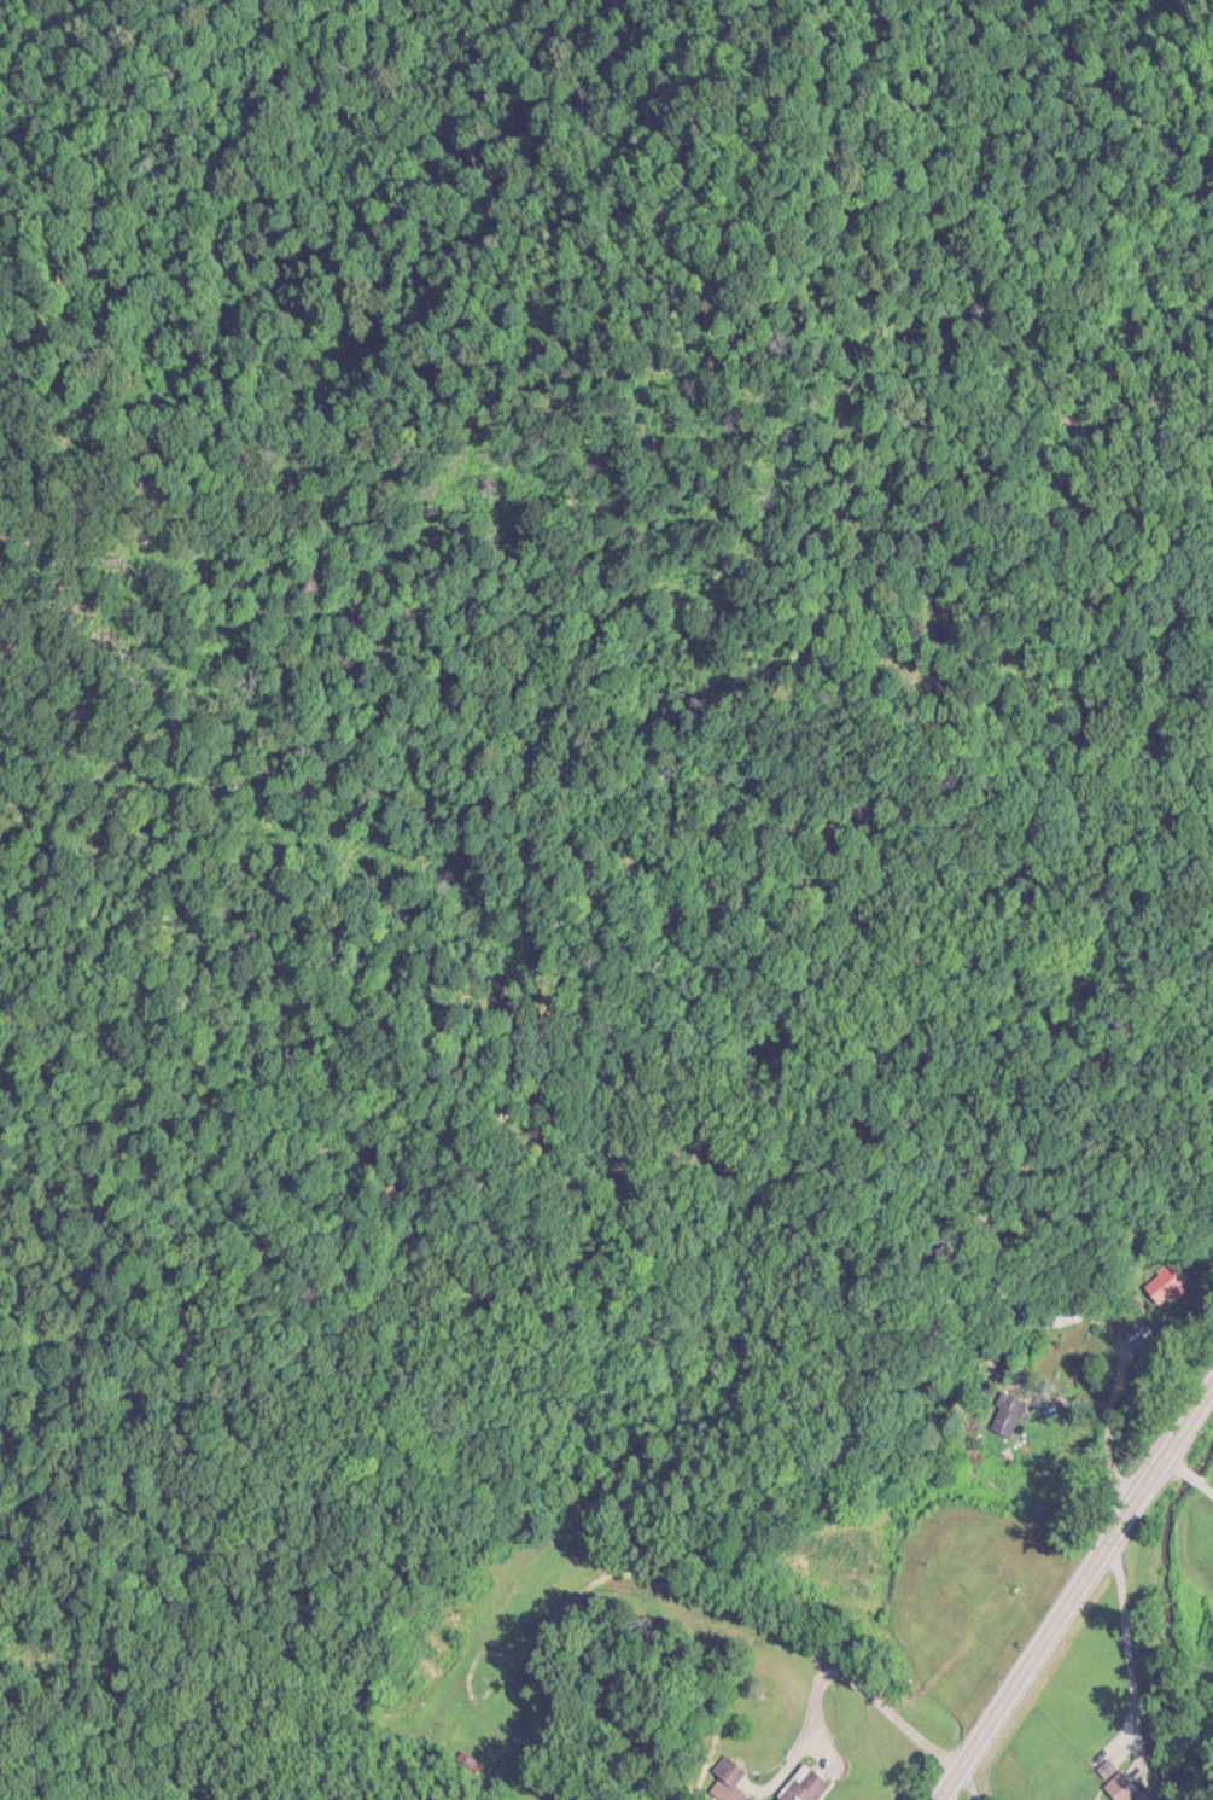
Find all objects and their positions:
road: (1077, 1595)
building: (1121, 1788)

